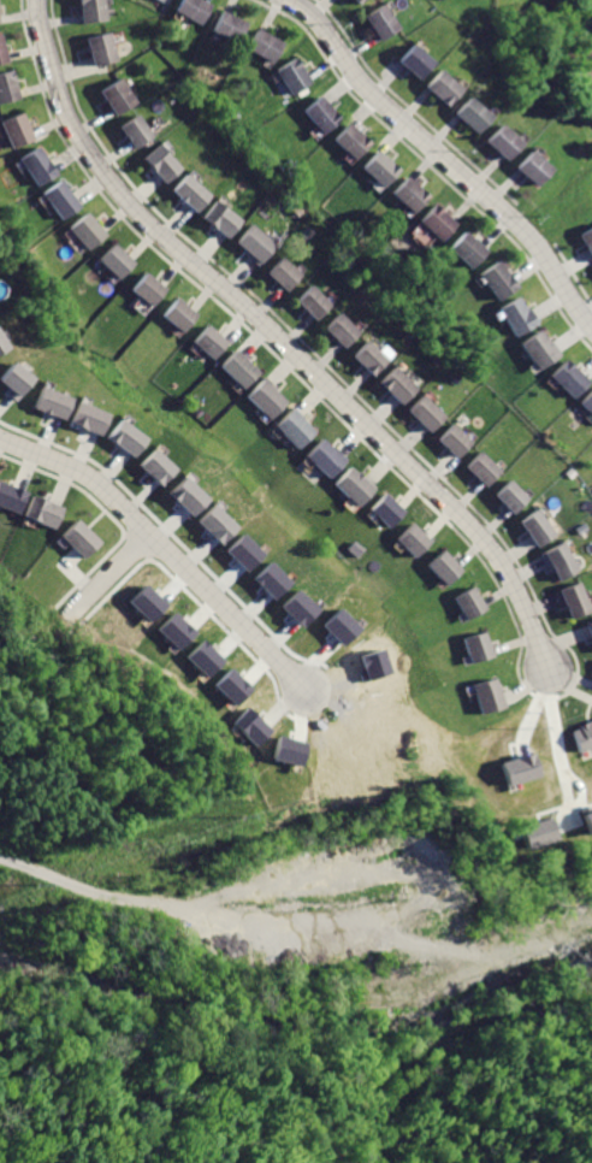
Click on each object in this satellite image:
building: (162, 0)
building: (355, 2)
building: (189, 8)
building: (89, 11)
building: (379, 24)
building: (227, 29)
building: (264, 45)
building: (96, 49)
building: (2, 51)
building: (413, 60)
building: (291, 77)
building: (7, 87)
building: (439, 88)
building: (113, 95)
building: (318, 113)
building: (468, 117)
building: (14, 128)
building: (134, 129)
building: (347, 140)
building: (498, 140)
road: (443, 159)
building: (160, 163)
building: (34, 165)
building: (378, 167)
building: (527, 170)
building: (189, 191)
building: (407, 196)
building: (57, 199)
building: (219, 218)
building: (428, 226)
building: (84, 231)
building: (584, 242)
building: (250, 243)
building: (466, 249)
building: (113, 260)
building: (282, 274)
building: (492, 281)
building: (146, 289)
building: (313, 303)
building: (177, 315)
building: (516, 315)
building: (341, 330)
road: (278, 338)
building: (207, 343)
building: (2, 344)
building: (538, 348)
building: (368, 358)
building: (235, 367)
building: (567, 377)
building: (13, 378)
building: (397, 386)
building: (259, 399)
building: (49, 402)
building: (587, 403)
building: (426, 415)
building: (87, 417)
building: (288, 427)
building: (124, 437)
building: (454, 441)
building: (319, 456)
building: (154, 466)
building: (483, 468)
building: (348, 485)
building: (185, 495)
building: (11, 497)
building: (510, 498)
building: (42, 510)
building: (379, 512)
building: (213, 524)
building: (535, 530)
building: (81, 537)
building: (408, 542)
road: (165, 548)
building: (241, 551)
building: (560, 562)
building: (437, 569)
road: (111, 573)
building: (270, 579)
building: (147, 602)
building: (573, 602)
building: (463, 603)
building: (297, 607)
building: (338, 625)
building: (176, 630)
building: (588, 636)
building: (473, 648)
building: (232, 685)
building: (484, 699)
building: (251, 725)
building: (580, 734)
road: (549, 743)
building: (290, 750)
building: (515, 768)
building: (585, 819)
building: (535, 832)
road: (95, 886)

